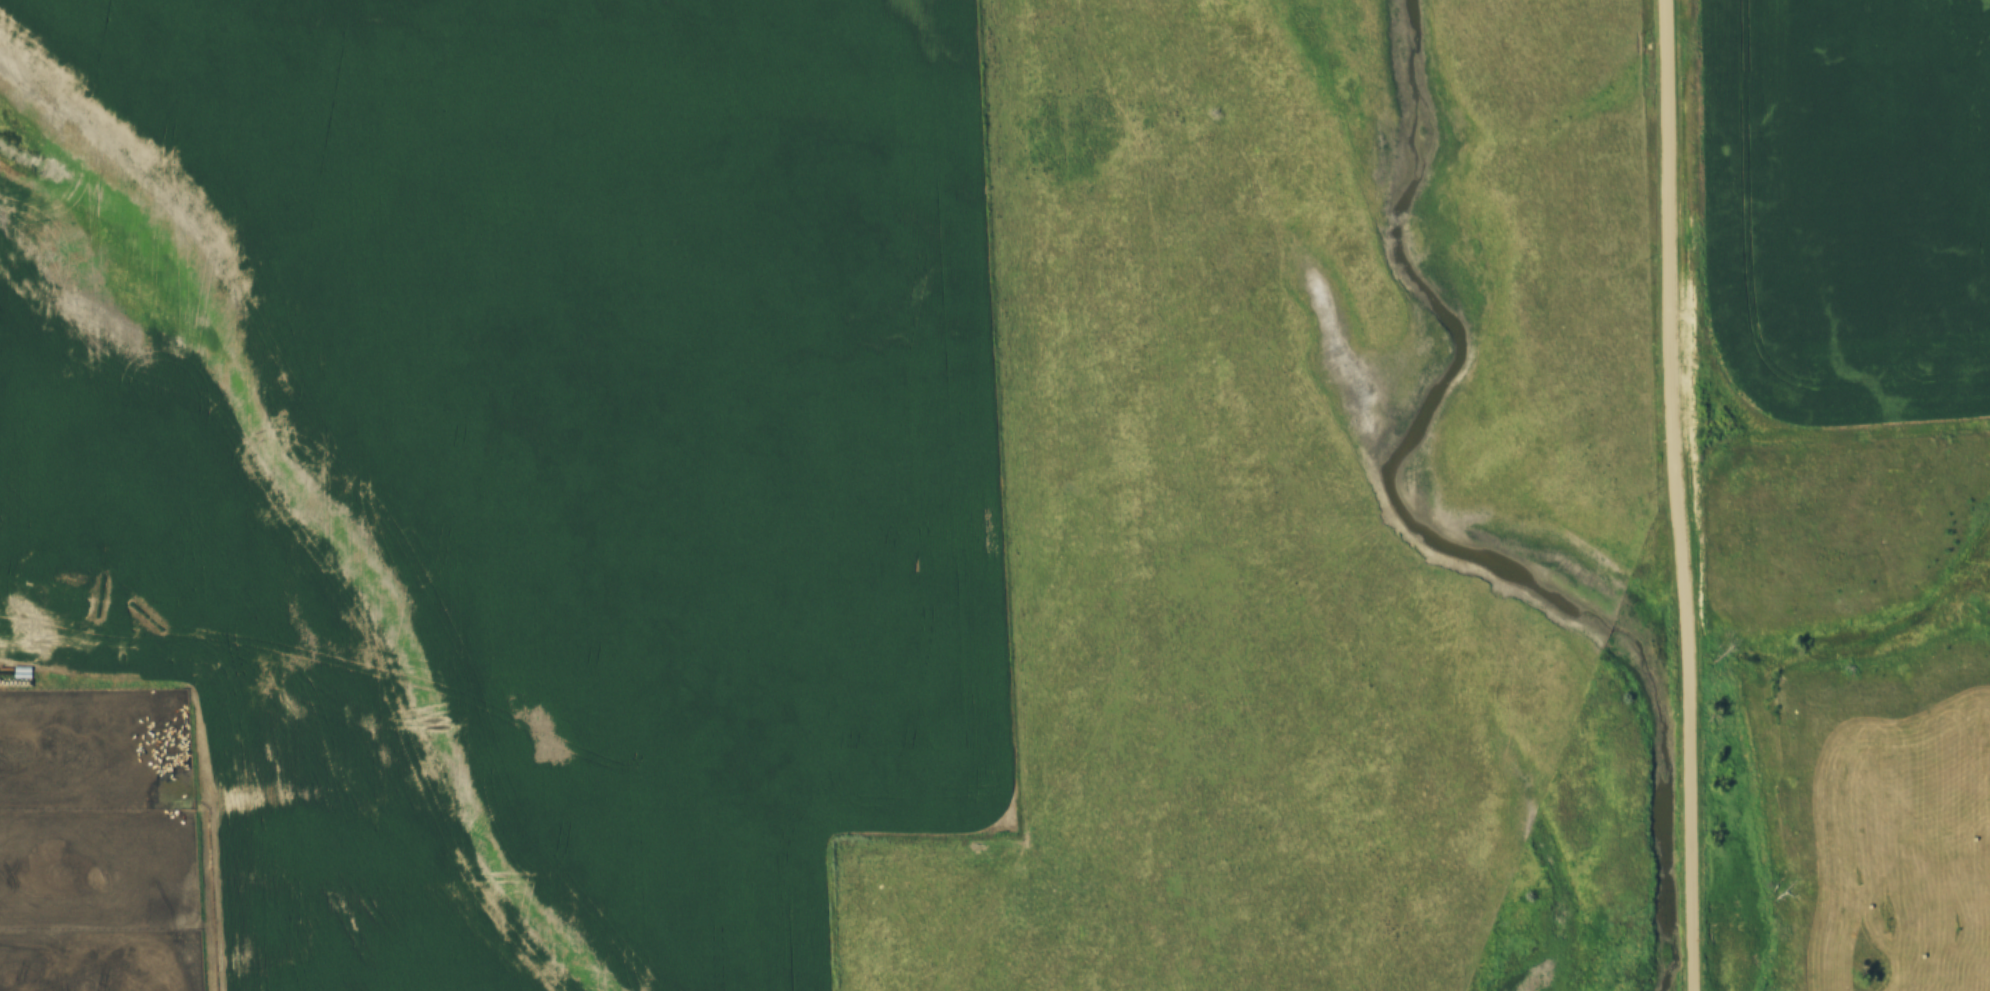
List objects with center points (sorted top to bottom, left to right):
road: (1675, 495)

